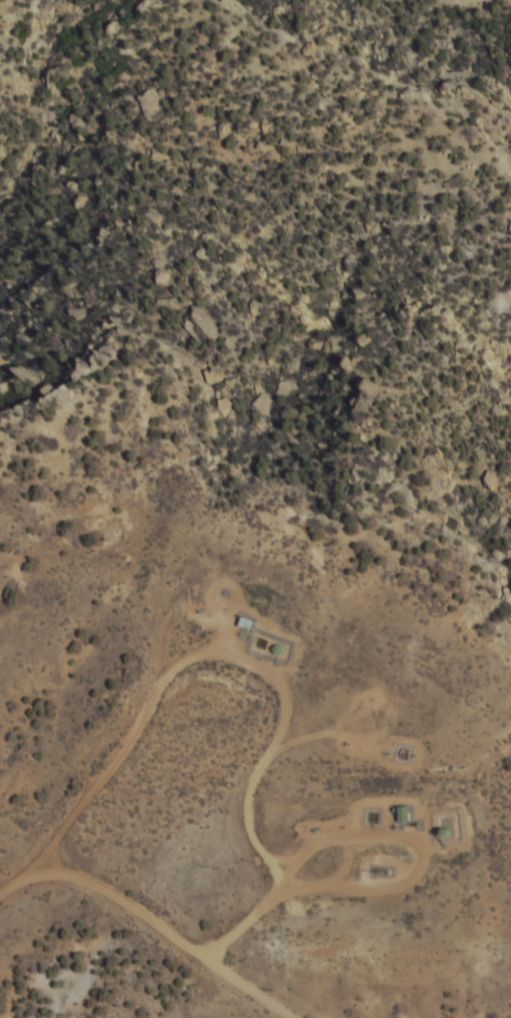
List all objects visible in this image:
building: (251, 622)
building: (409, 813)
road: (154, 918)

